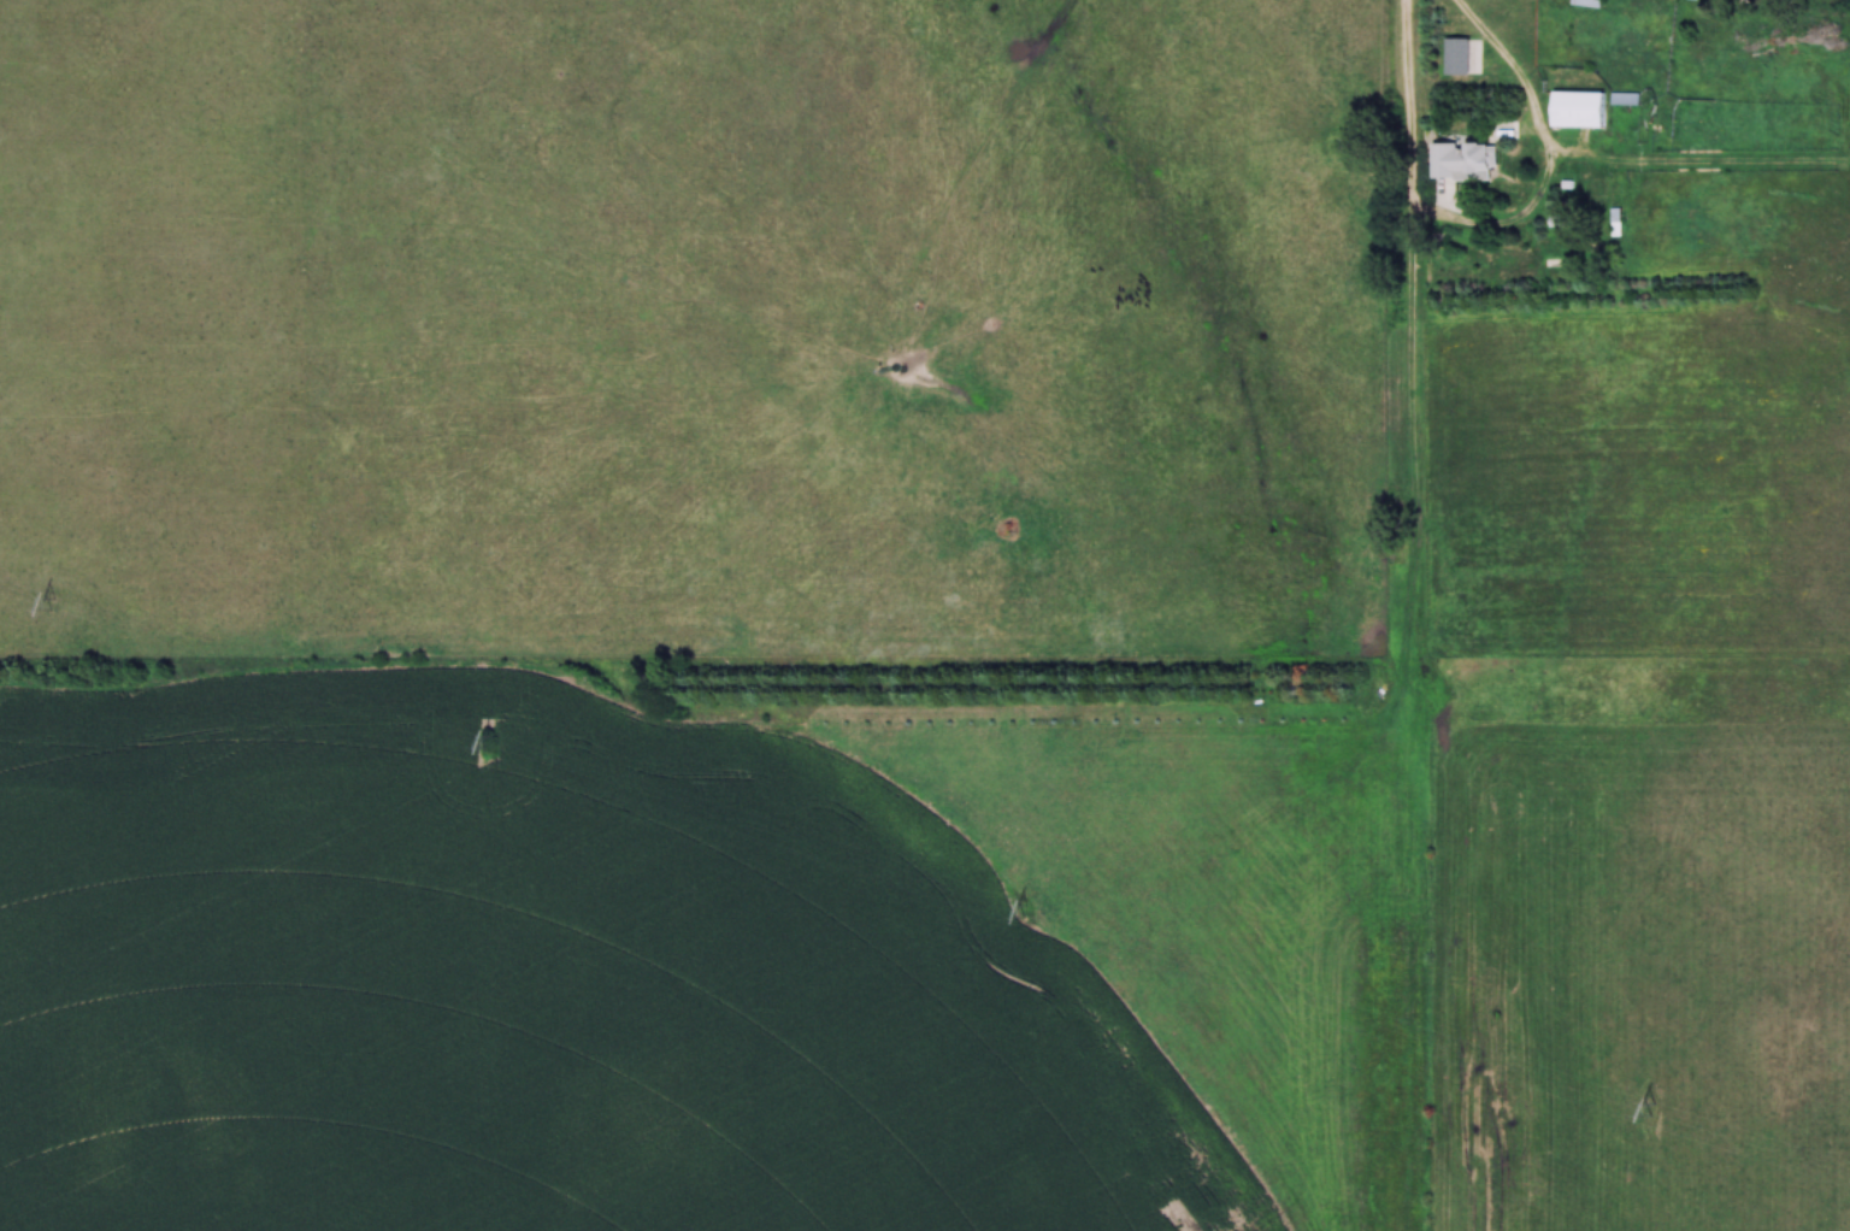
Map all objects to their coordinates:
building: (1587, 4)
building: (1580, 110)
road: (1546, 160)
building: (1465, 161)
road: (1404, 332)
power tower: (57, 602)
power tower: (489, 743)
power tower: (1027, 912)
power tower: (1654, 1109)

